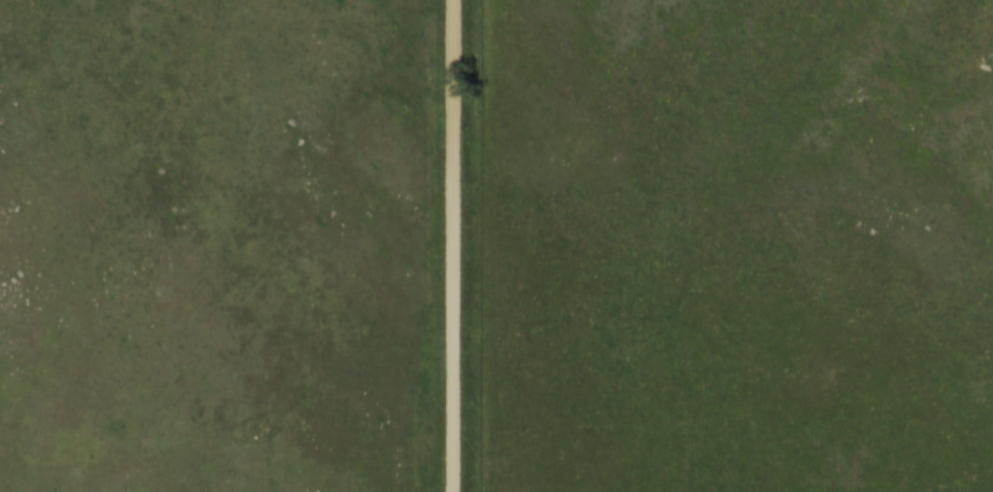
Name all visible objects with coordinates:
road: (455, 246)

